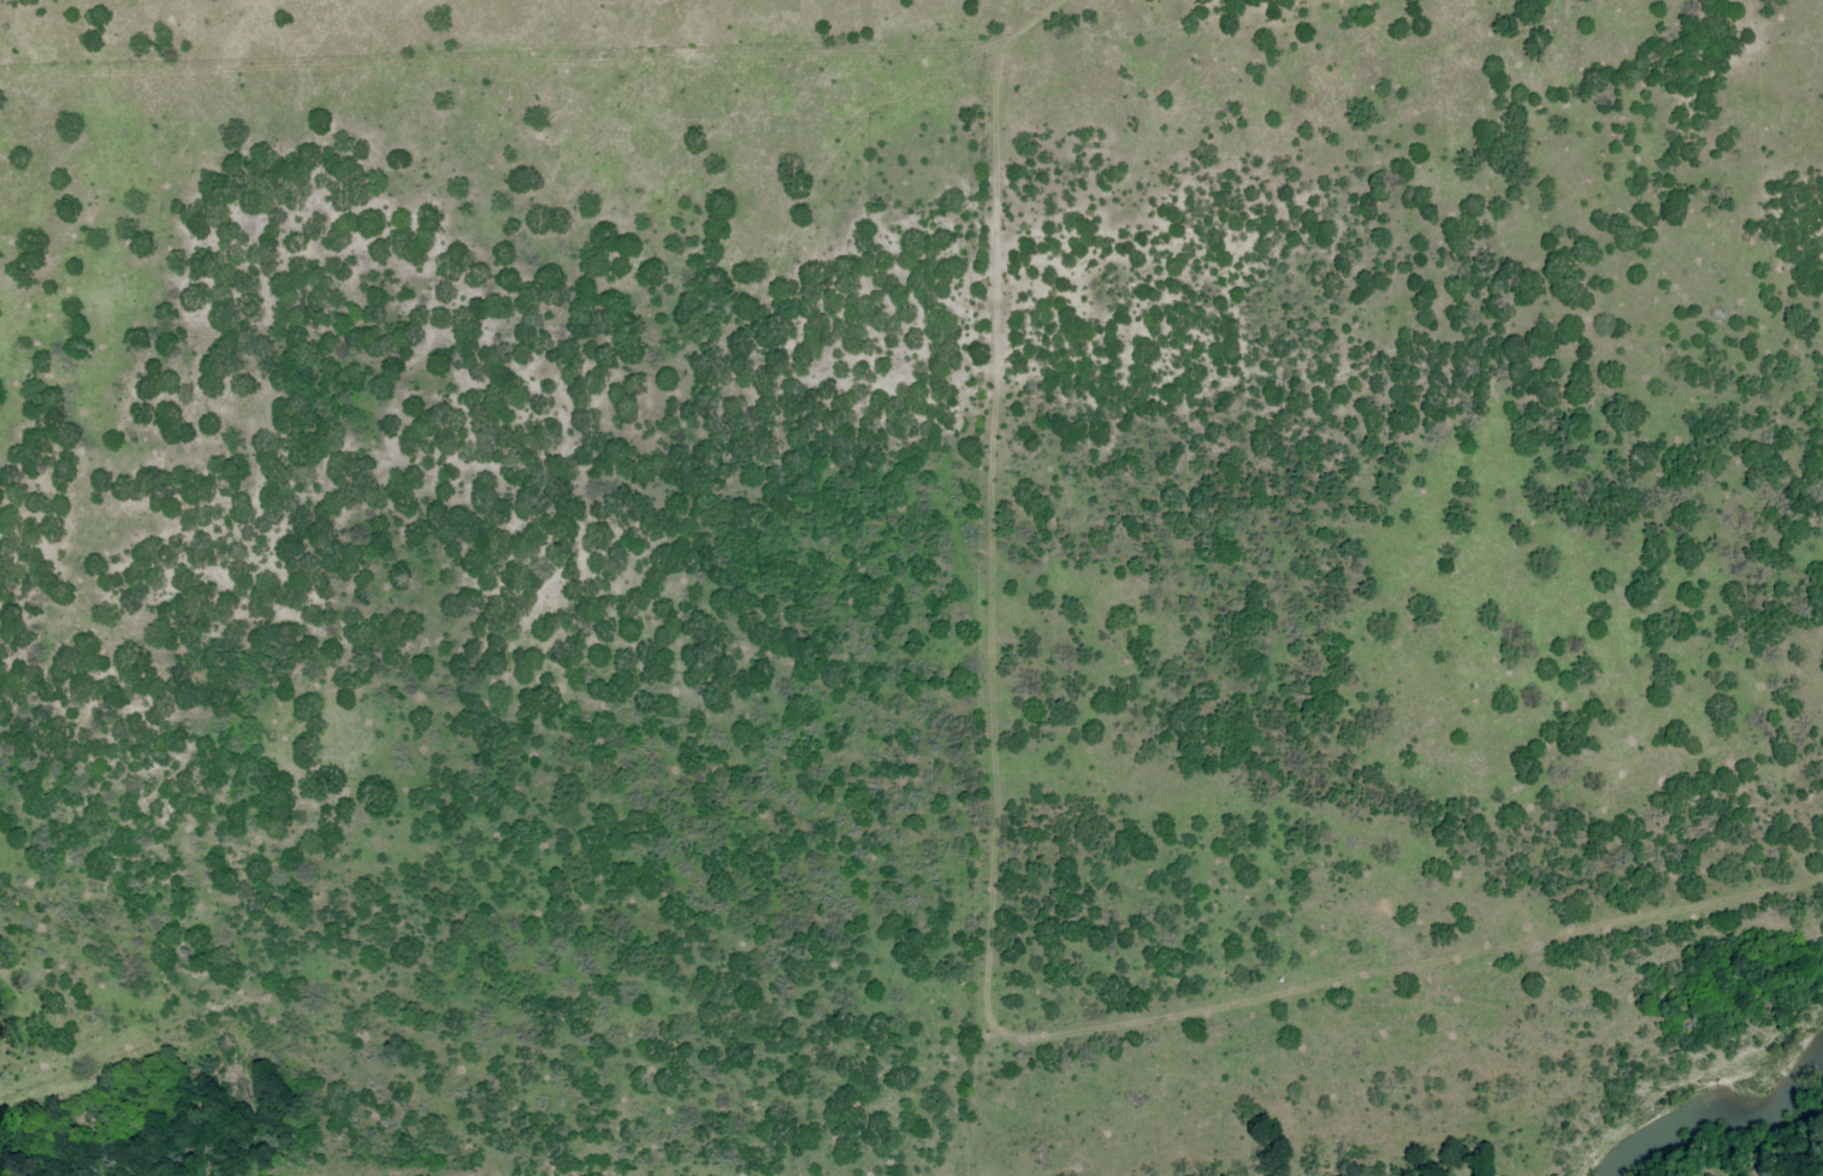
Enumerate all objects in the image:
river: (1706, 1085)

